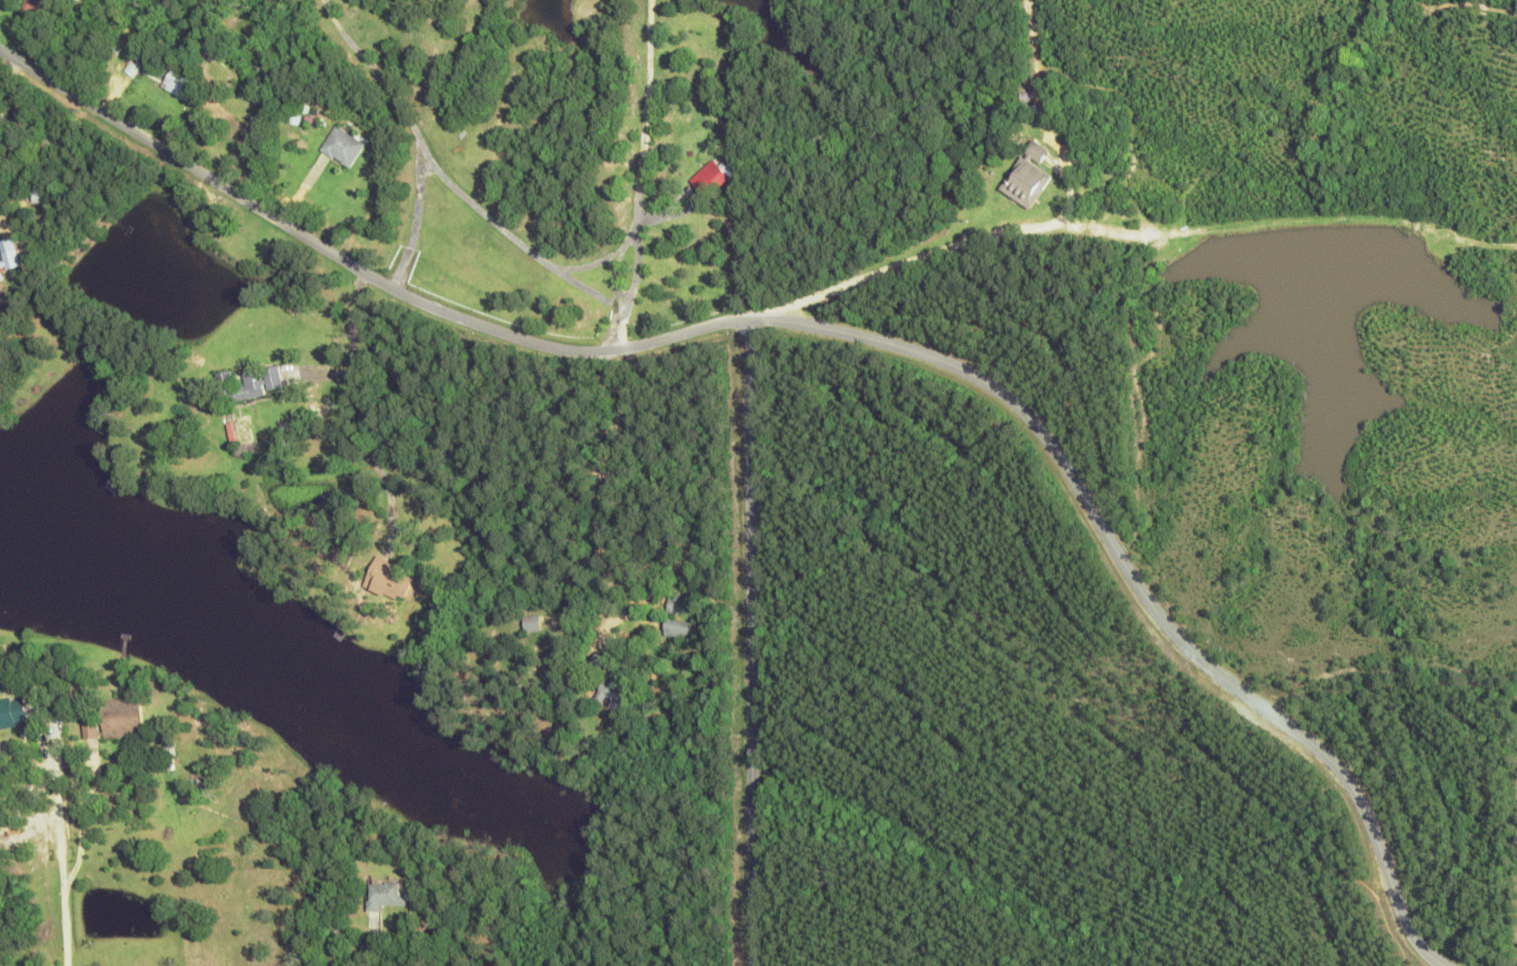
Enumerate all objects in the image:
building: (30, 8)
building: (179, 84)
building: (341, 146)
building: (45, 147)
building: (1027, 175)
building: (712, 176)
building: (42, 192)
road: (891, 210)
building: (359, 234)
building: (8, 255)
road: (700, 295)
building: (249, 384)
building: (389, 579)
building: (677, 602)
road: (747, 627)
building: (678, 628)
building: (613, 684)
building: (13, 711)
building: (123, 717)
building: (91, 729)
building: (387, 894)
building: (437, 926)
road: (63, 928)
road: (1495, 957)

